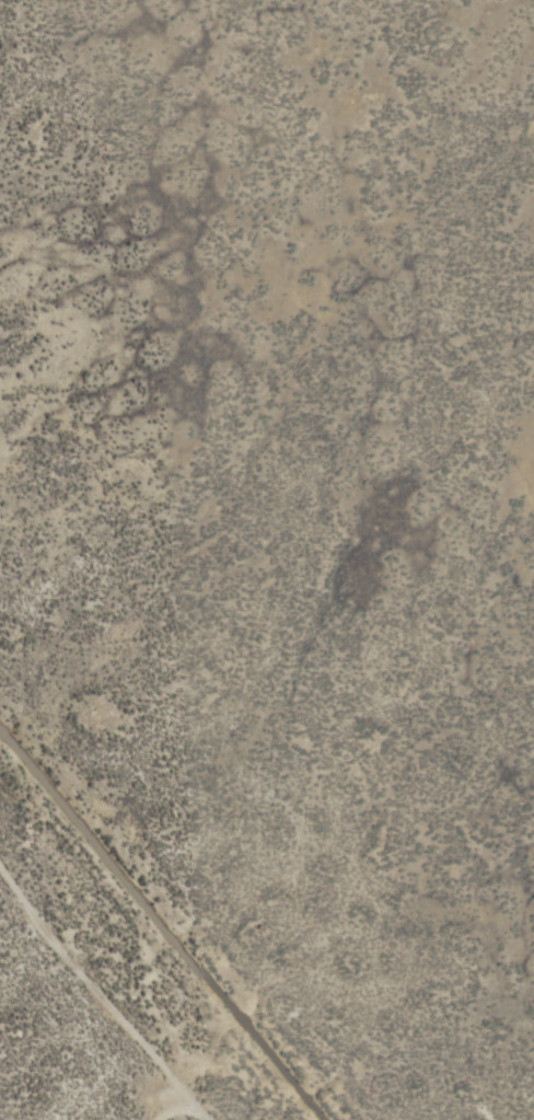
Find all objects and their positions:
road: (101, 993)
road: (174, 1108)

